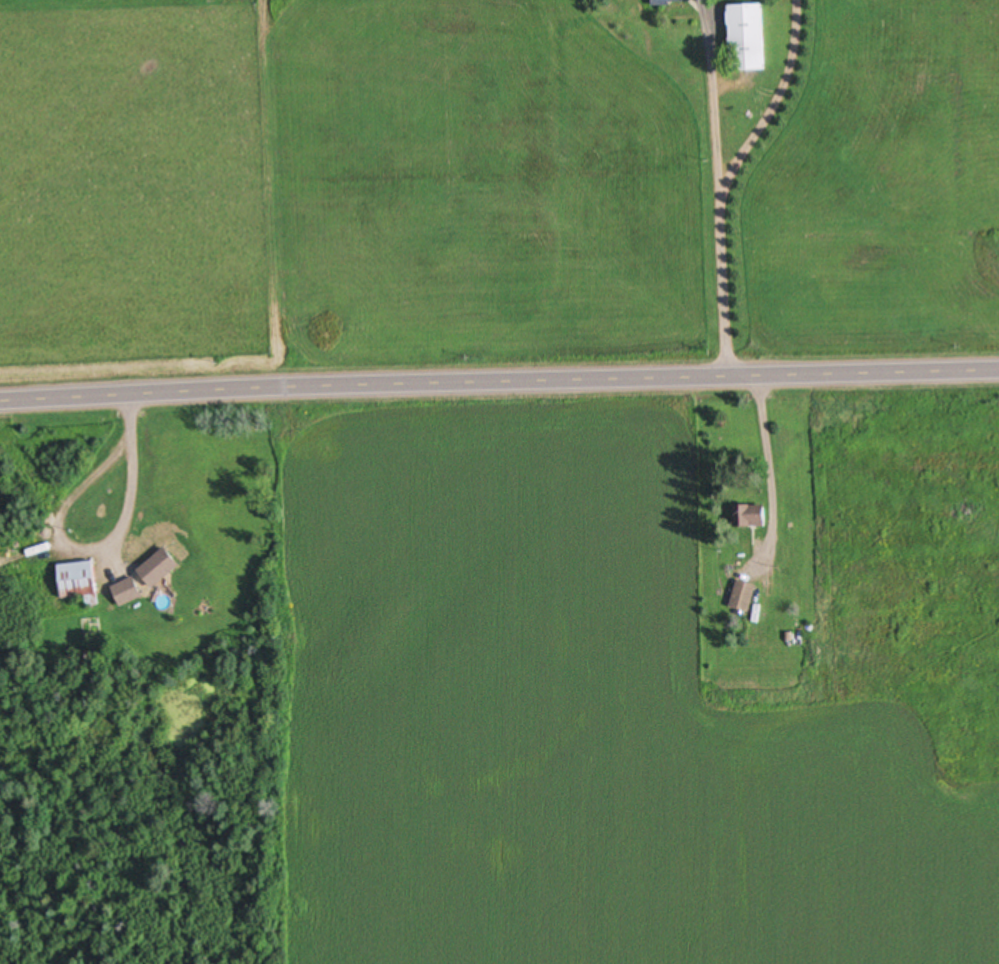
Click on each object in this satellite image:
building: (669, 2)
building: (743, 38)
road: (499, 384)
building: (747, 516)
building: (165, 568)
building: (84, 583)
building: (131, 593)
building: (740, 597)

